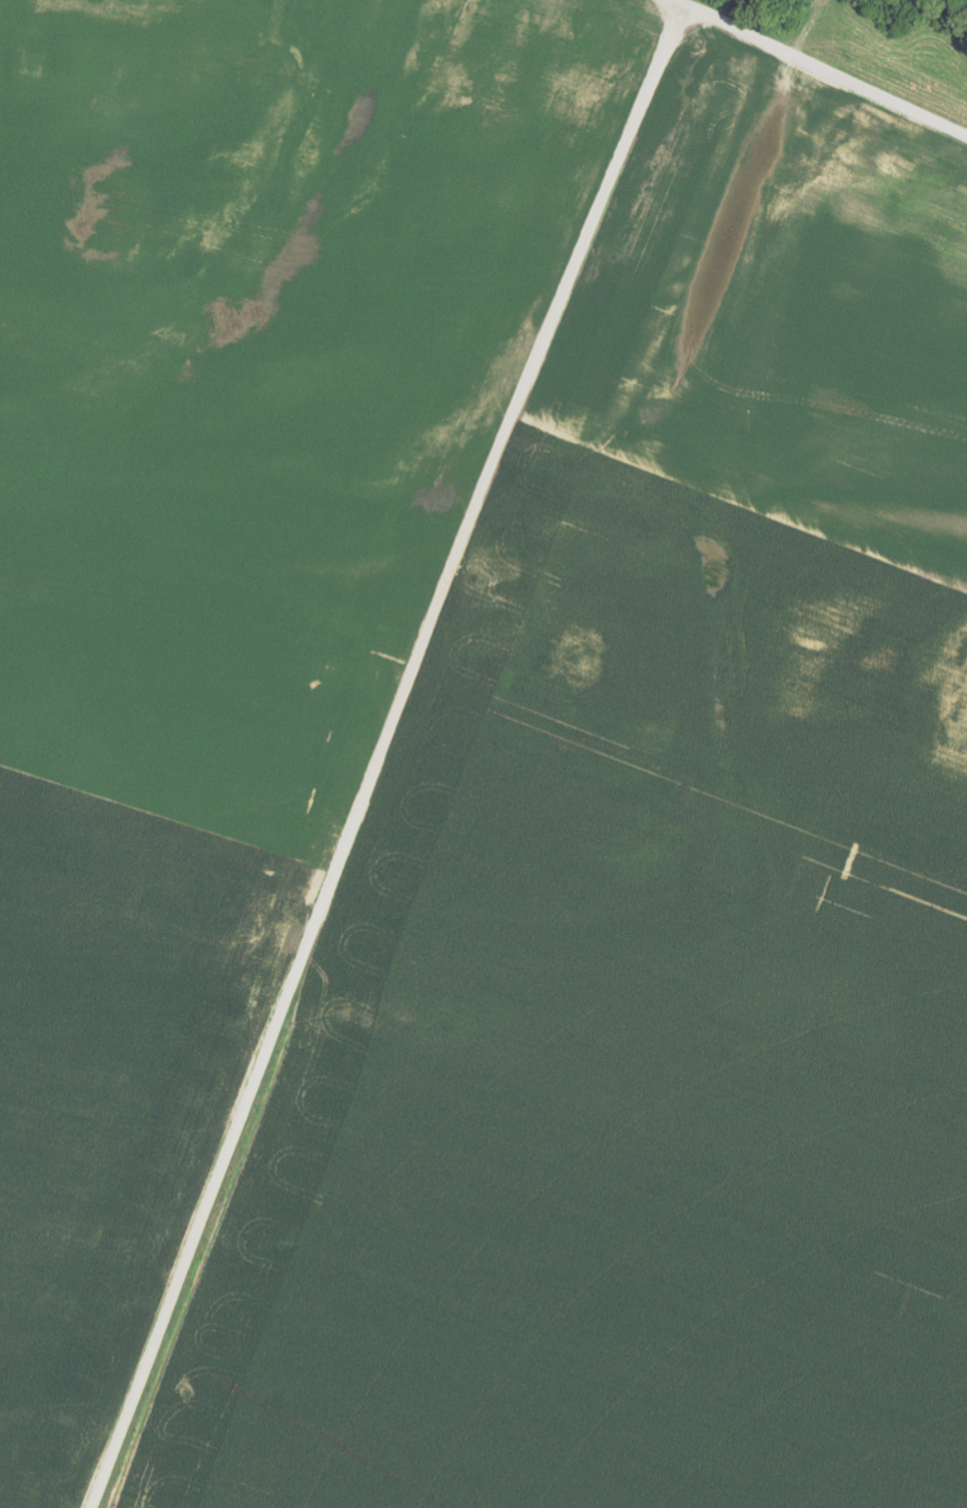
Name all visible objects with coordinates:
road: (822, 68)
road: (575, 266)
road: (280, 1018)

